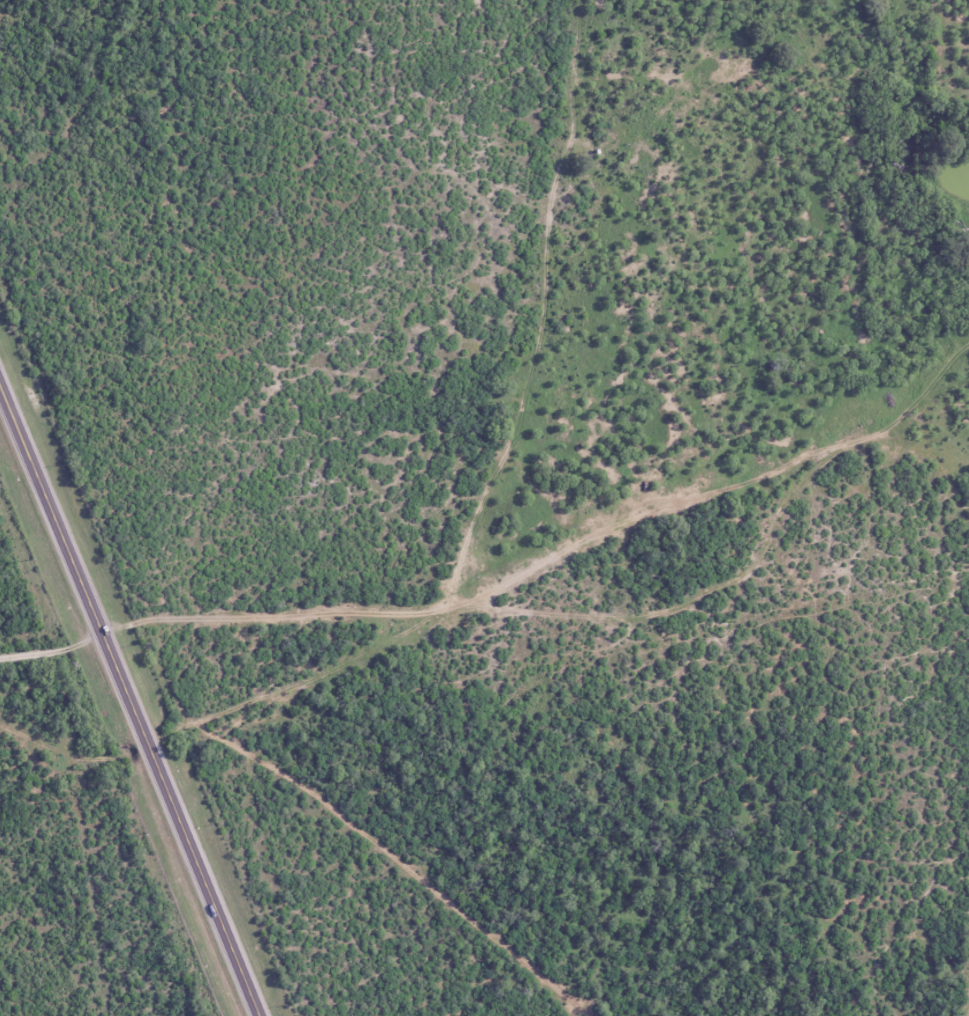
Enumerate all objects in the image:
power tower: (27, 558)
road: (53, 649)
road: (130, 697)
power tower: (143, 833)

